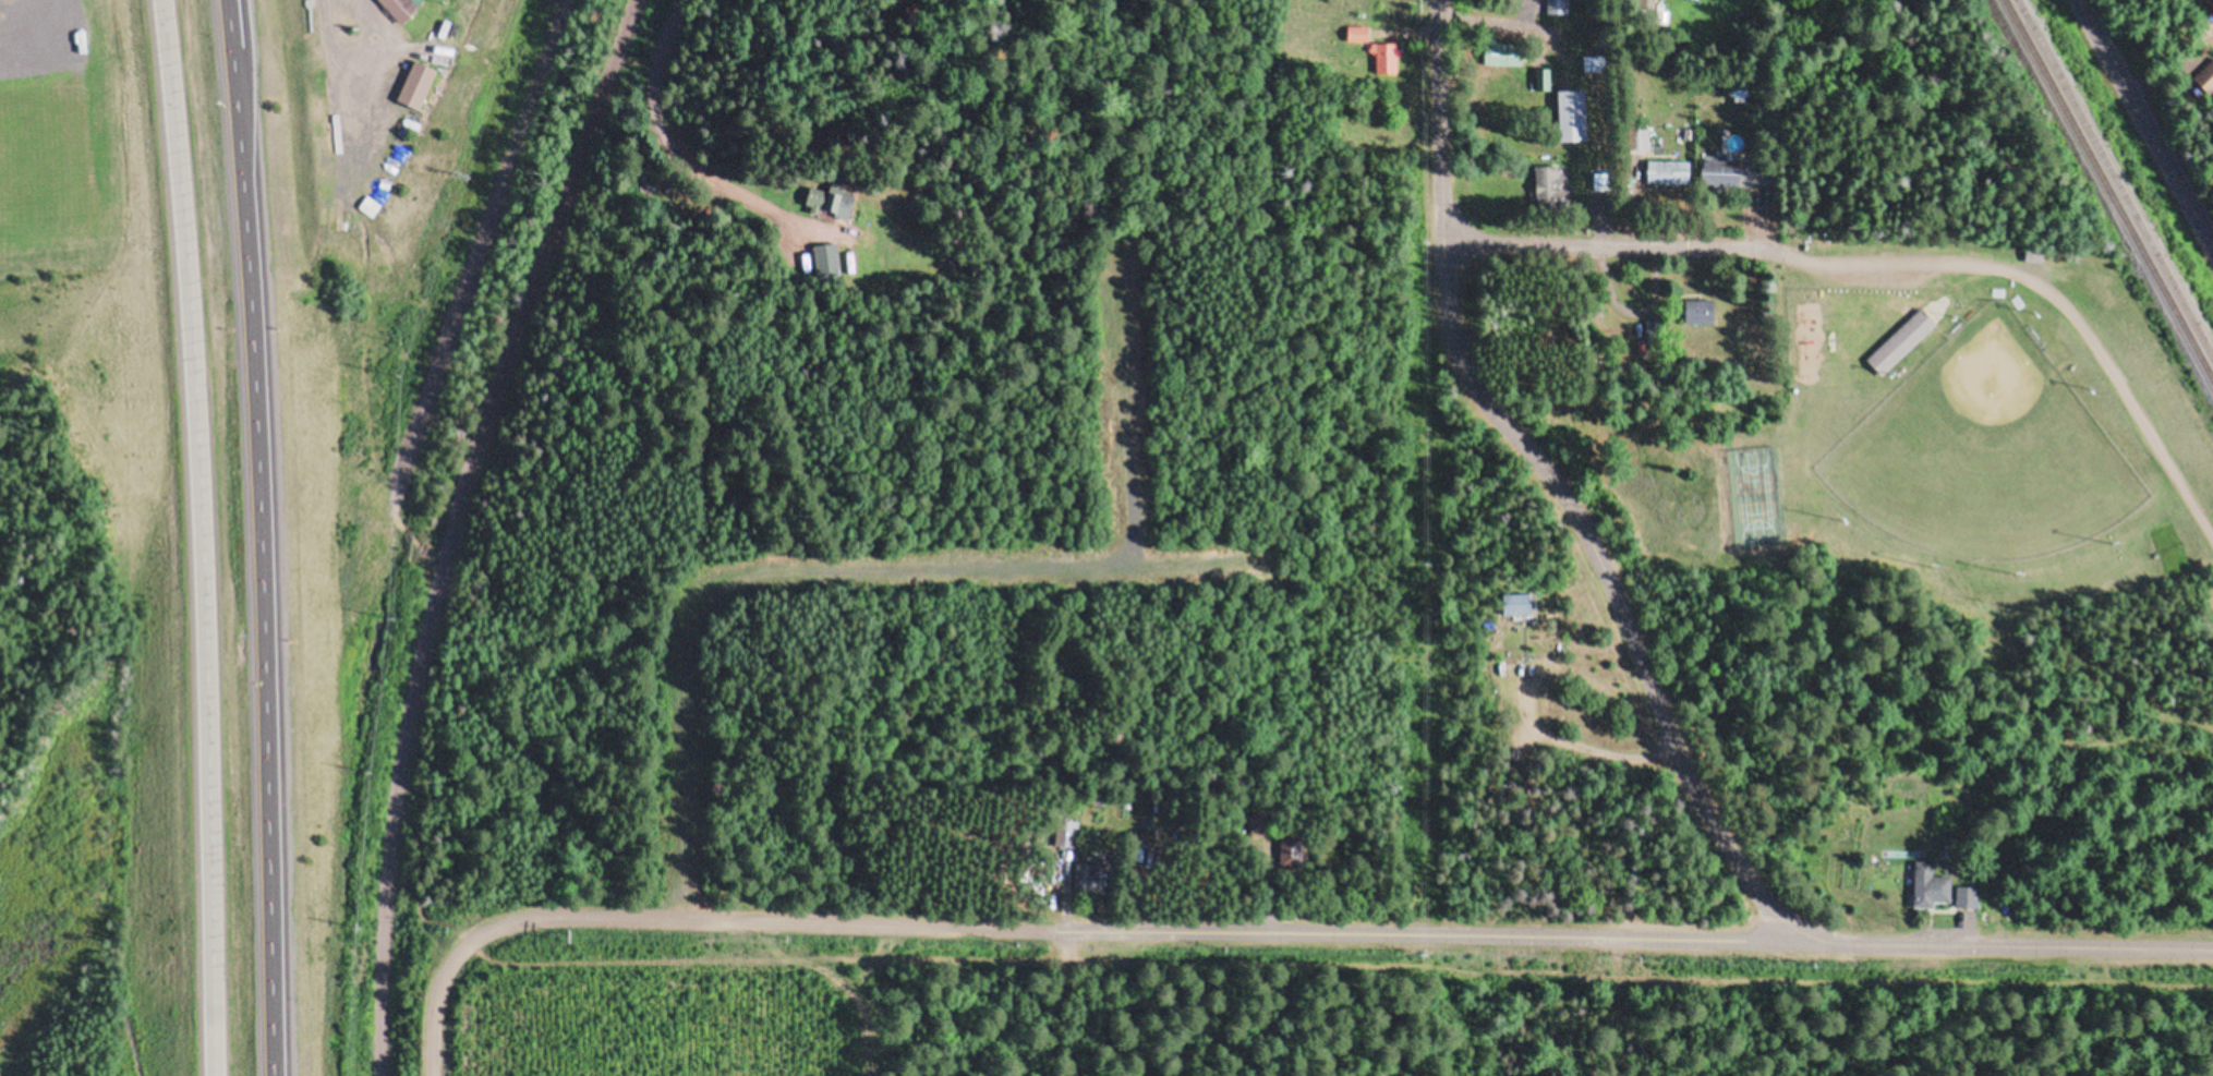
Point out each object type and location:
building: (400, 5)
building: (1556, 8)
road: (344, 15)
road: (1495, 26)
building: (1357, 35)
building: (1505, 55)
building: (1384, 60)
building: (1593, 64)
building: (2206, 76)
building: (1541, 81)
building: (423, 84)
building: (1571, 117)
road: (2147, 119)
road: (674, 134)
building: (1669, 173)
building: (1736, 174)
railway: (2115, 178)
building: (1599, 183)
building: (1549, 189)
railway: (2109, 189)
building: (832, 200)
road: (475, 249)
building: (810, 253)
road: (1896, 264)
road: (365, 310)
building: (1700, 313)
building: (1647, 333)
building: (1900, 344)
road: (1127, 422)
park: (1984, 454)
park: (1937, 470)
road: (449, 525)
road: (201, 536)
road: (259, 536)
road: (806, 572)
building: (1519, 606)
road: (1644, 668)
building: (1256, 826)
building: (1068, 835)
building: (1292, 853)
building: (1092, 879)
building: (1928, 880)
building: (1969, 891)
road: (764, 922)
road: (1423, 934)
road: (1247, 963)
road: (433, 996)

